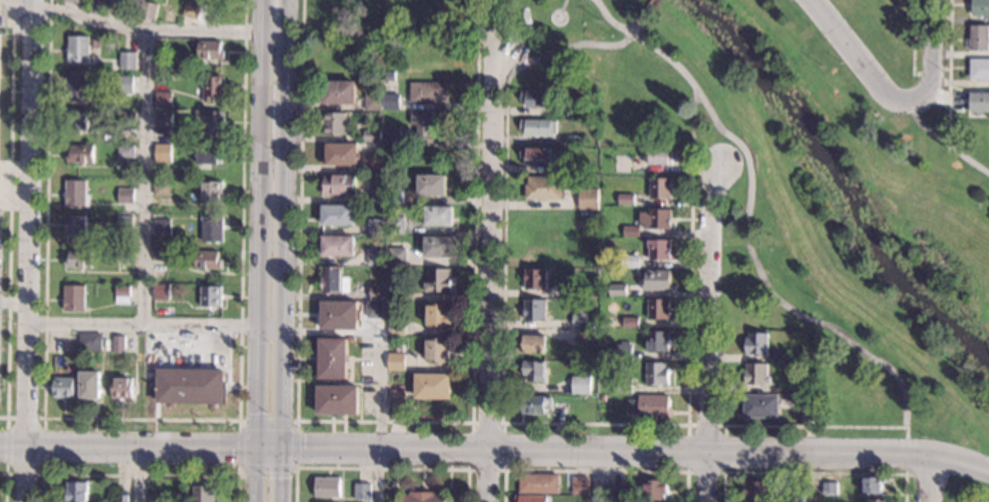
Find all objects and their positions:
building: (72, 2)
building: (95, 5)
building: (179, 6)
road: (649, 8)
building: (980, 9)
building: (192, 10)
building: (152, 11)
road: (480, 23)
road: (146, 34)
road: (912, 37)
building: (979, 40)
road: (574, 46)
building: (77, 49)
building: (427, 49)
building: (211, 50)
road: (854, 56)
road: (936, 56)
building: (127, 61)
building: (163, 67)
building: (980, 70)
road: (930, 71)
road: (948, 71)
building: (399, 74)
building: (124, 85)
building: (76, 88)
building: (213, 88)
building: (340, 93)
building: (427, 94)
building: (163, 99)
building: (537, 100)
building: (392, 102)
building: (980, 103)
building: (374, 104)
building: (575, 113)
building: (127, 117)
building: (77, 120)
building: (163, 120)
building: (211, 122)
building: (336, 124)
building: (424, 124)
building: (539, 128)
building: (373, 137)
building: (392, 137)
road: (942, 140)
building: (575, 142)
building: (125, 152)
building: (80, 153)
building: (163, 153)
building: (342, 155)
building: (209, 156)
building: (537, 156)
building: (663, 157)
road: (261, 163)
road: (288, 164)
building: (372, 164)
building: (564, 170)
park: (793, 173)
road: (142, 179)
building: (341, 186)
building: (432, 187)
building: (162, 188)
building: (544, 189)
building: (661, 189)
river: (834, 191)
building: (211, 192)
building: (76, 194)
building: (125, 196)
building: (378, 197)
building: (395, 197)
building: (589, 200)
building: (626, 201)
road: (5, 206)
road: (9, 211)
building: (402, 216)
building: (338, 217)
building: (439, 218)
building: (655, 220)
building: (124, 223)
road: (475, 224)
road: (746, 224)
building: (76, 225)
building: (376, 227)
building: (396, 227)
building: (161, 228)
building: (212, 229)
building: (631, 233)
building: (338, 247)
building: (439, 248)
road: (29, 251)
building: (660, 252)
road: (503, 254)
building: (161, 256)
building: (376, 258)
building: (398, 258)
road: (690, 258)
building: (124, 259)
building: (78, 260)
building: (208, 261)
building: (630, 262)
road: (488, 274)
building: (535, 281)
building: (333, 282)
building: (438, 282)
building: (657, 282)
building: (571, 290)
building: (161, 292)
building: (618, 292)
building: (378, 293)
building: (396, 294)
building: (122, 295)
building: (210, 297)
road: (298, 297)
building: (74, 298)
road: (14, 302)
building: (374, 311)
building: (535, 311)
building: (659, 311)
building: (339, 317)
building: (438, 317)
building: (579, 323)
road: (143, 324)
building: (619, 324)
road: (272, 327)
building: (397, 328)
road: (709, 334)
building: (350, 339)
building: (585, 339)
building: (89, 342)
building: (658, 342)
building: (68, 344)
building: (118, 344)
building: (531, 346)
building: (757, 346)
building: (399, 350)
building: (437, 352)
building: (624, 352)
building: (781, 358)
building: (333, 360)
building: (396, 362)
building: (534, 373)
building: (656, 376)
building: (756, 376)
building: (89, 386)
building: (579, 386)
building: (190, 387)
building: (623, 387)
building: (62, 388)
building: (432, 388)
building: (121, 389)
building: (395, 393)
building: (554, 398)
building: (603, 399)
building: (338, 401)
building: (809, 406)
building: (536, 407)
building: (650, 407)
building: (760, 408)
road: (381, 411)
traffic signals: (257, 413)
road: (257, 414)
road: (285, 415)
road: (142, 418)
road: (239, 420)
road: (485, 422)
road: (594, 422)
road: (706, 425)
road: (816, 426)
road: (5, 445)
road: (128, 445)
road: (43, 446)
road: (502, 446)
traffic signals: (232, 447)
traffic signals: (303, 448)
road: (594, 450)
road: (906, 455)
road: (961, 462)
road: (468, 463)
road: (381, 468)
road: (611, 471)
road: (706, 471)
road: (238, 472)
road: (135, 473)
road: (814, 473)
road: (139, 476)
road: (598, 476)
traffic signals: (284, 477)
road: (819, 478)
road: (931, 478)
building: (537, 484)
road: (5, 485)
building: (579, 485)
building: (873, 485)
road: (504, 486)
building: (325, 488)
building: (830, 488)
park: (965, 489)
building: (75, 491)
building: (654, 491)
building: (754, 491)
building: (360, 492)
building: (611, 493)
building: (203, 495)
building: (421, 497)
building: (157, 498)
building: (122, 499)
building: (532, 499)
building: (794, 499)
building: (875, 500)

